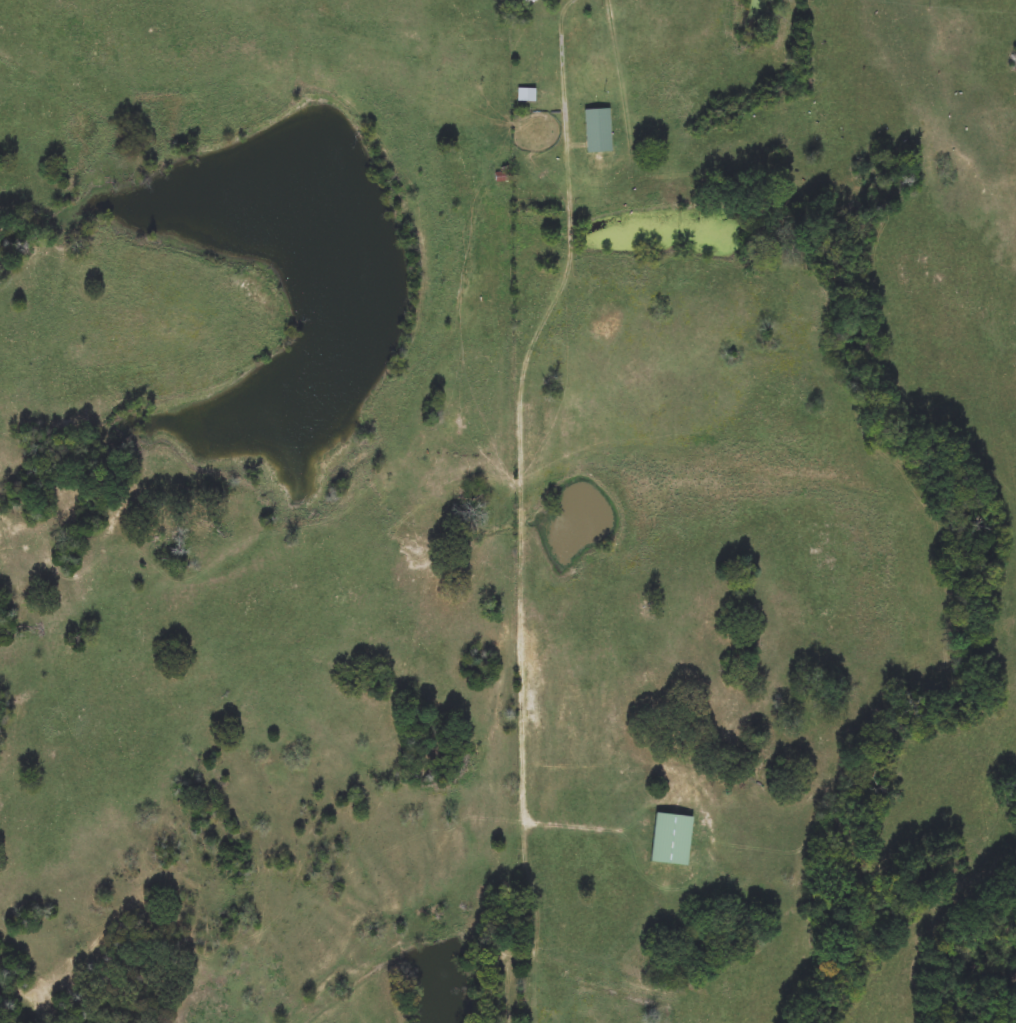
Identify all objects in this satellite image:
building: (526, 95)
building: (594, 142)
road: (522, 418)
building: (671, 839)

